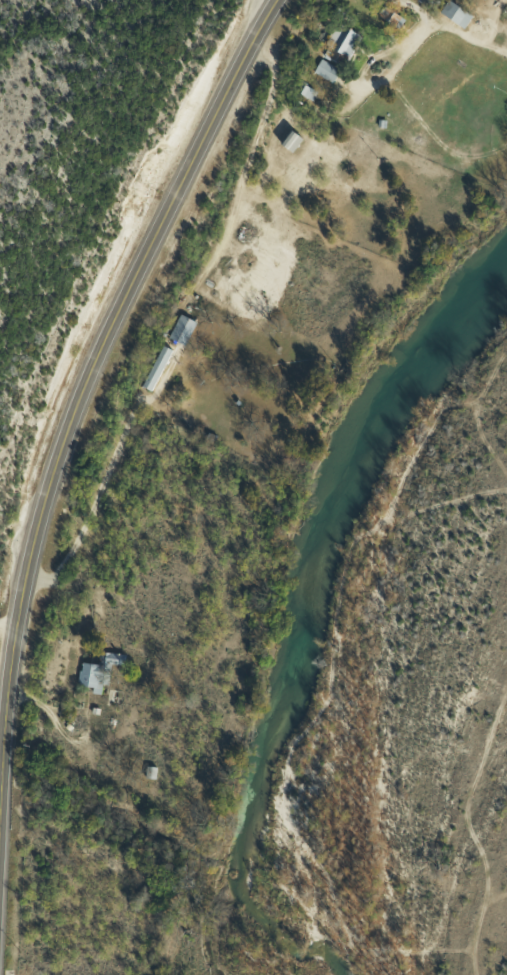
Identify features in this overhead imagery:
building: (452, 14)
building: (394, 20)
building: (335, 44)
building: (326, 72)
building: (303, 91)
building: (292, 143)
building: (184, 330)
road: (95, 358)
building: (159, 367)
road: (98, 498)
river: (311, 606)
road: (8, 624)
building: (103, 672)

